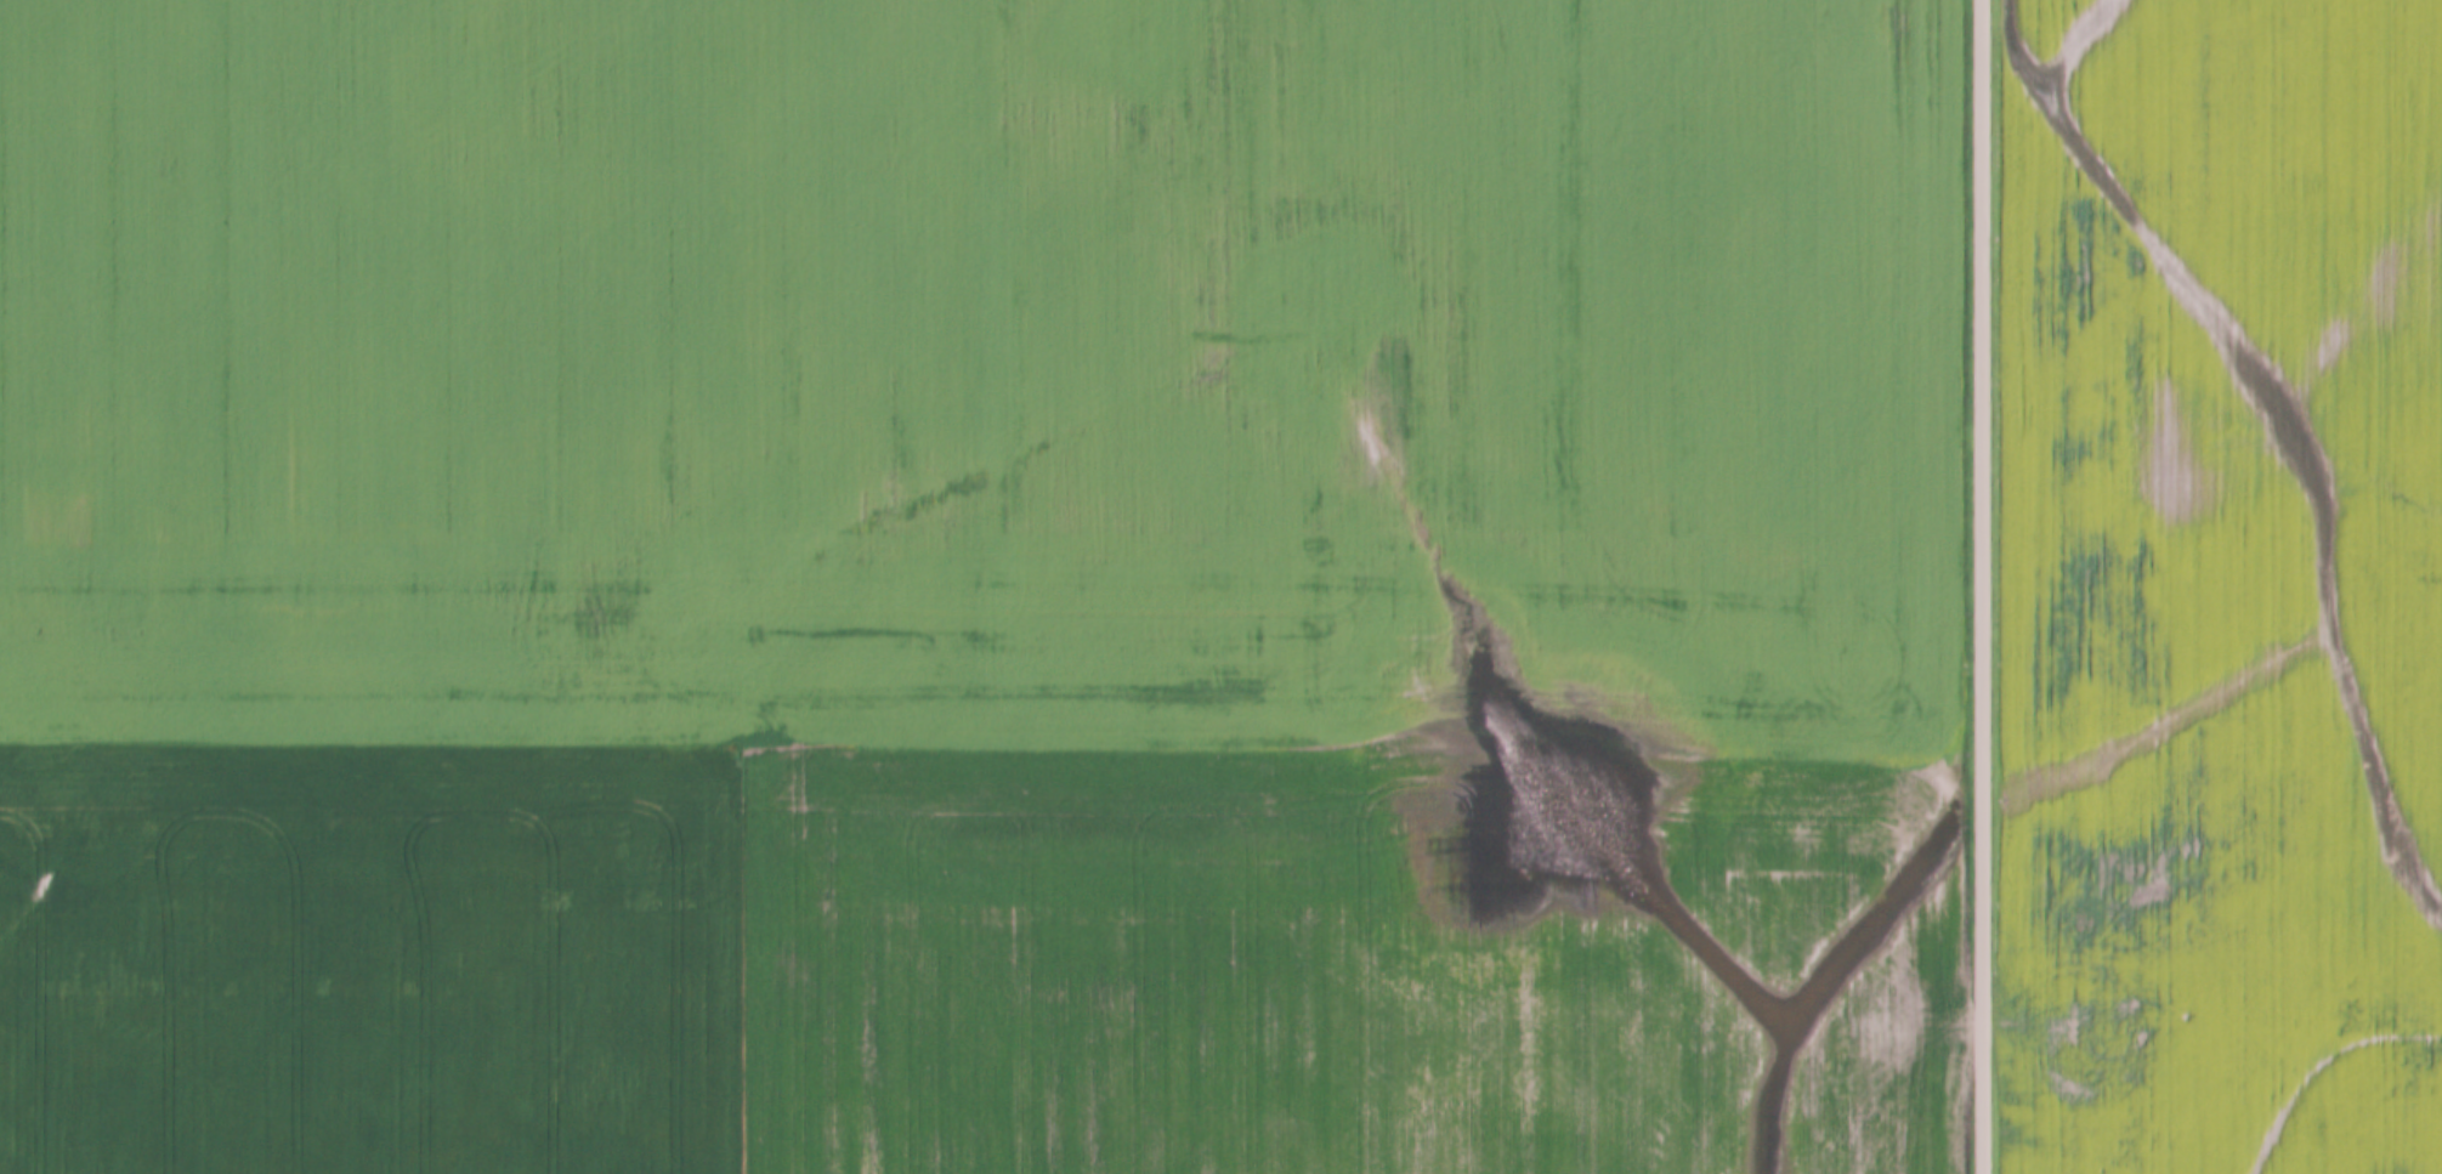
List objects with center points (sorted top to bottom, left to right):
road: (1985, 586)

